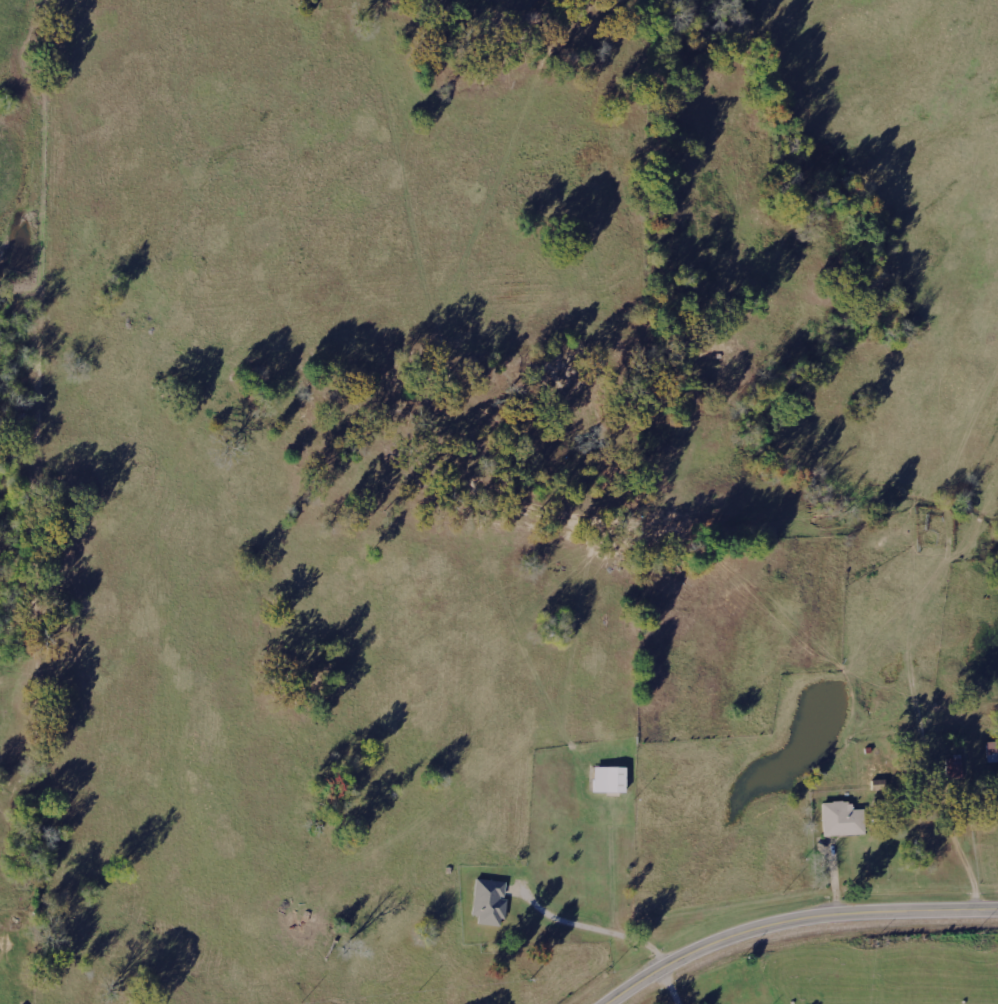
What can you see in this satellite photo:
building: (608, 779)
building: (841, 819)
building: (490, 906)
road: (792, 920)

